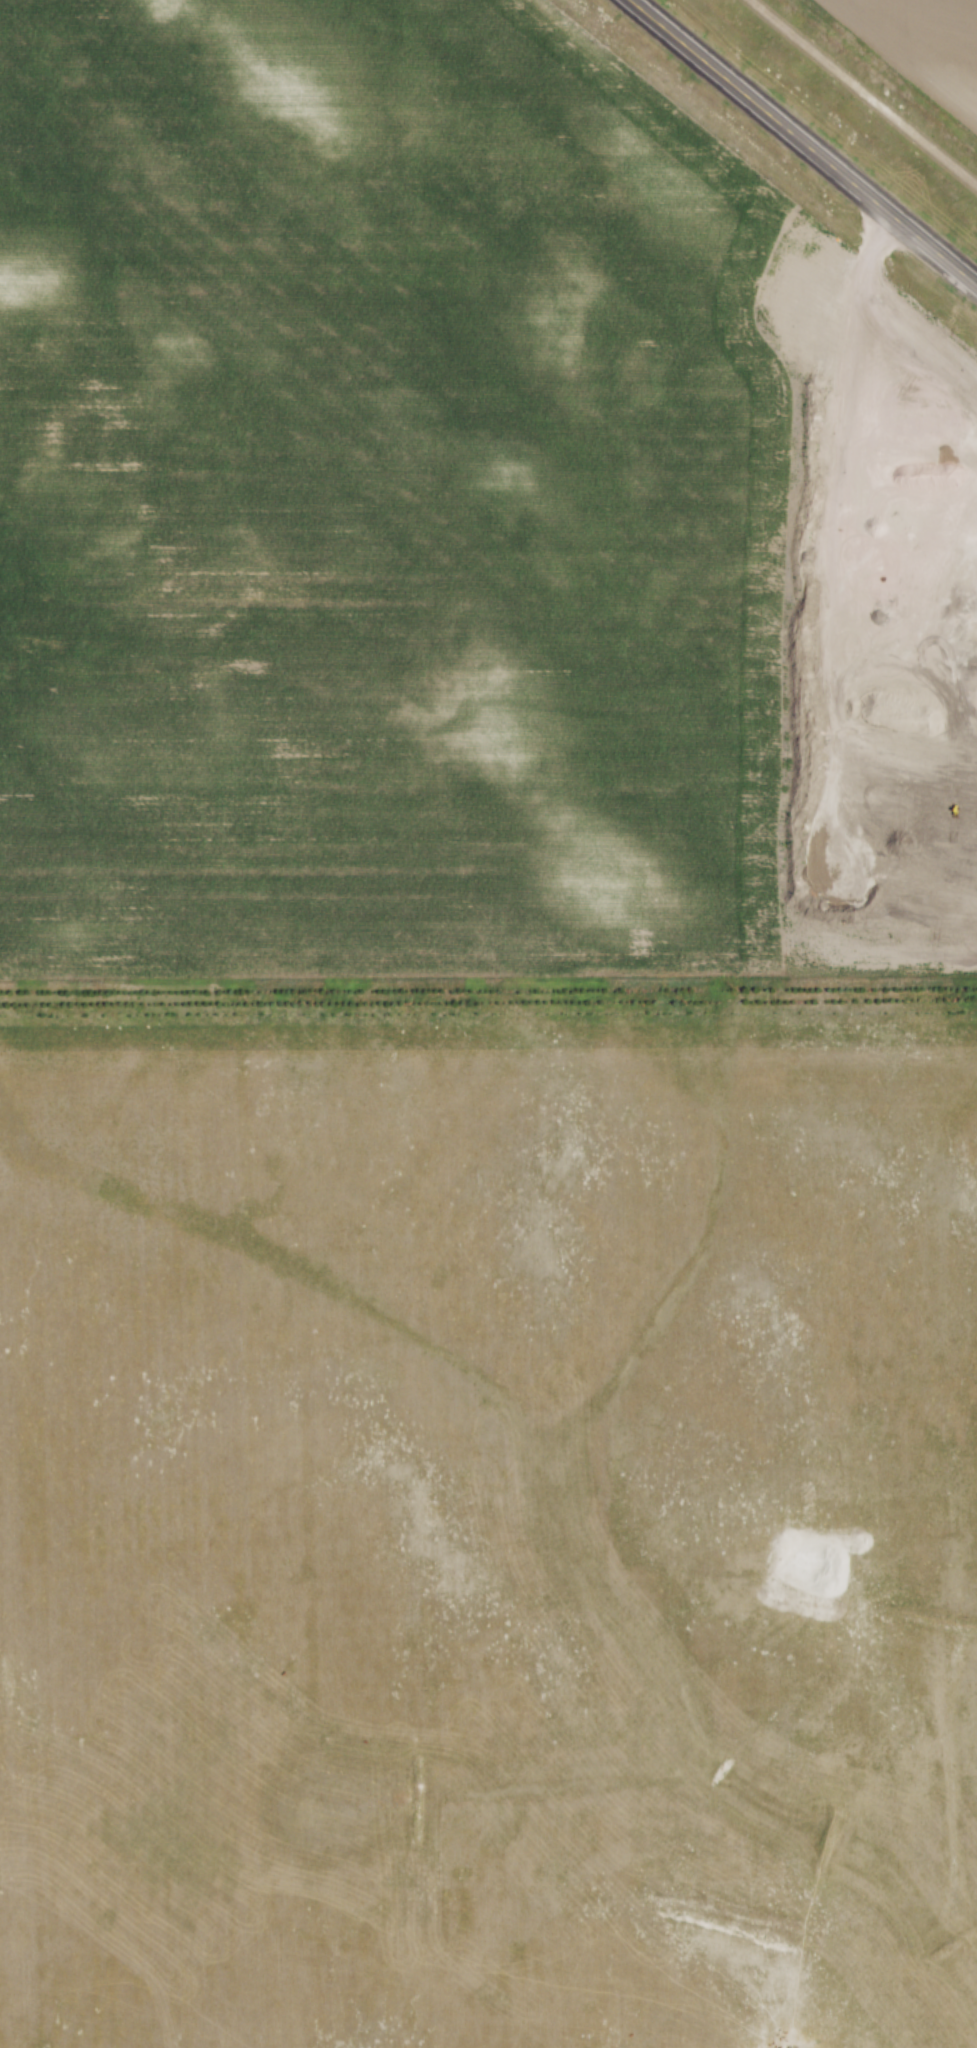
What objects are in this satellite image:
road: (866, 90)
road: (804, 140)

